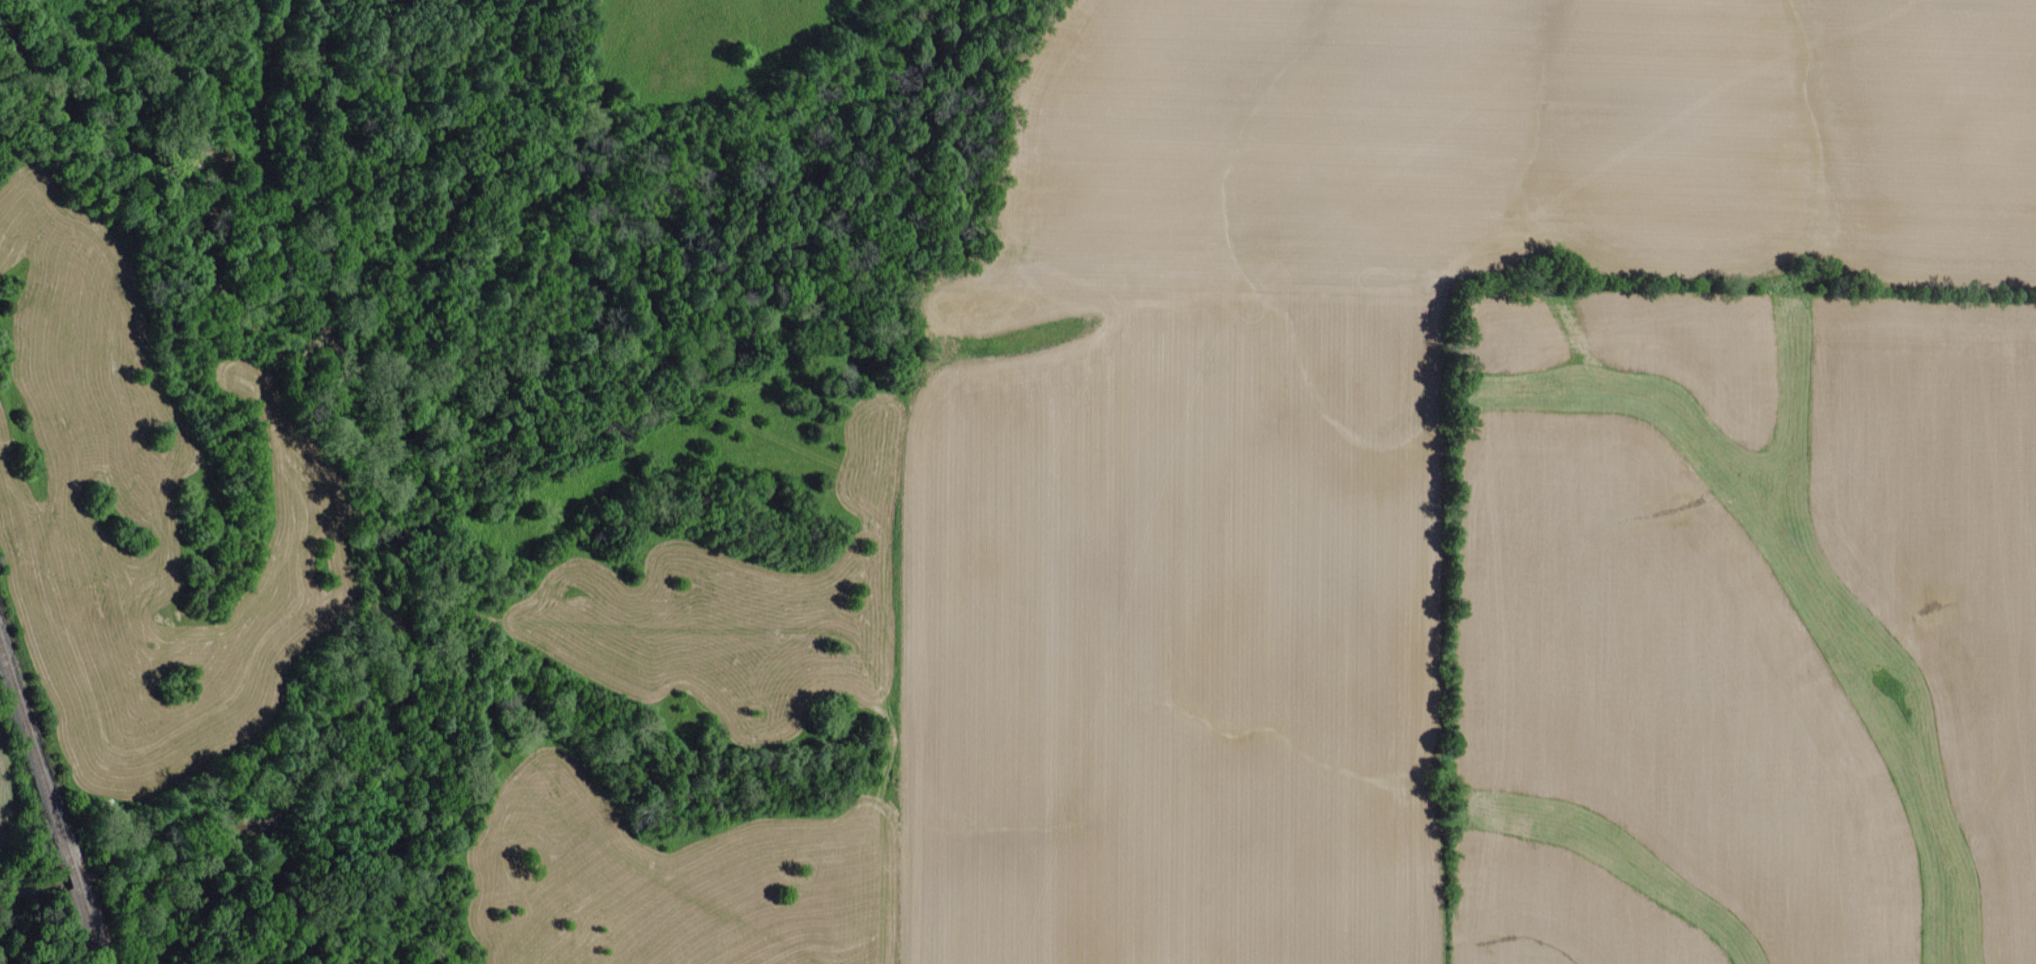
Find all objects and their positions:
railway: (38, 834)

